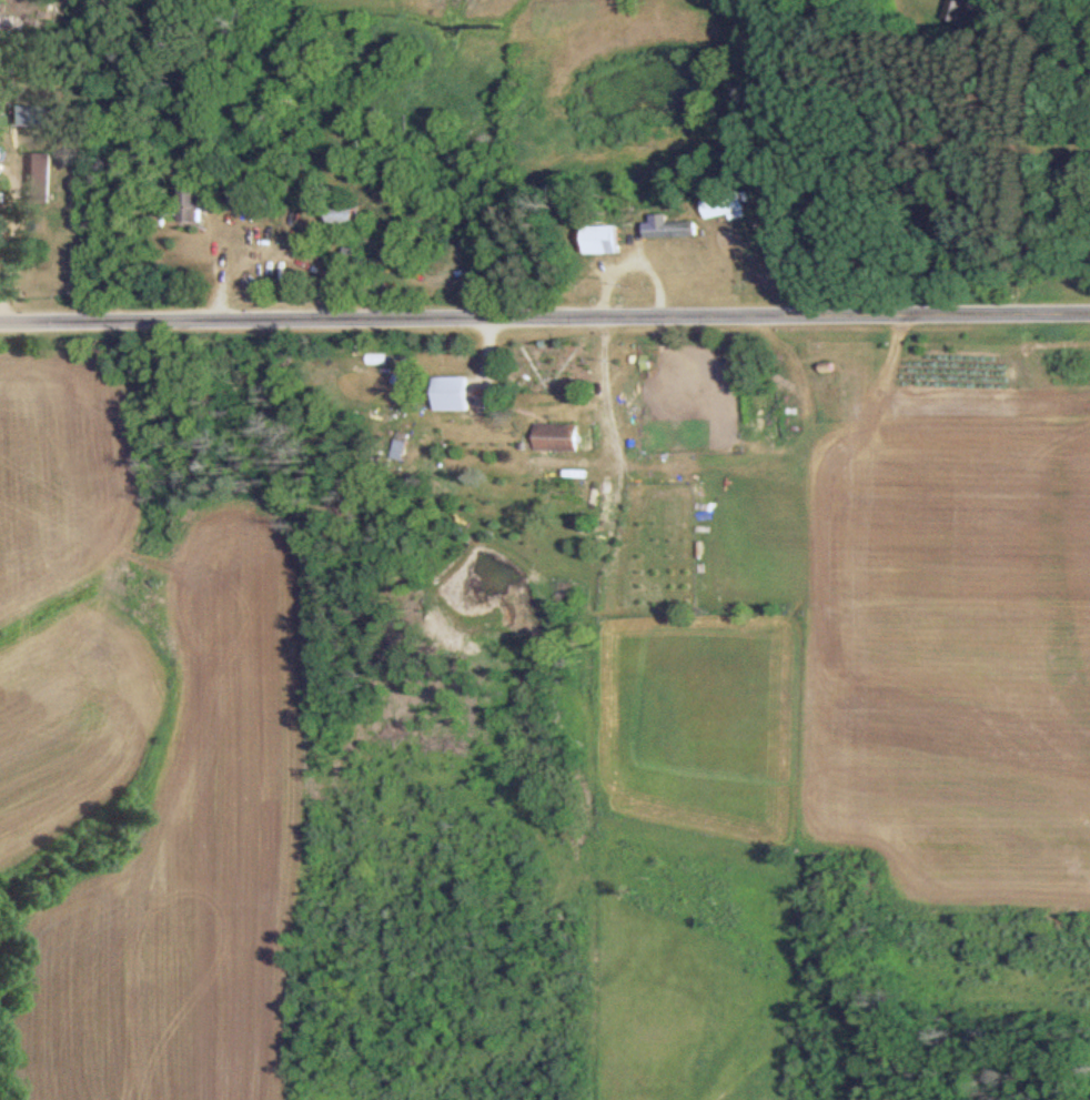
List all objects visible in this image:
building: (953, 12)
building: (39, 179)
building: (196, 204)
building: (347, 219)
building: (672, 228)
building: (607, 239)
road: (545, 315)
building: (452, 394)
building: (555, 437)

